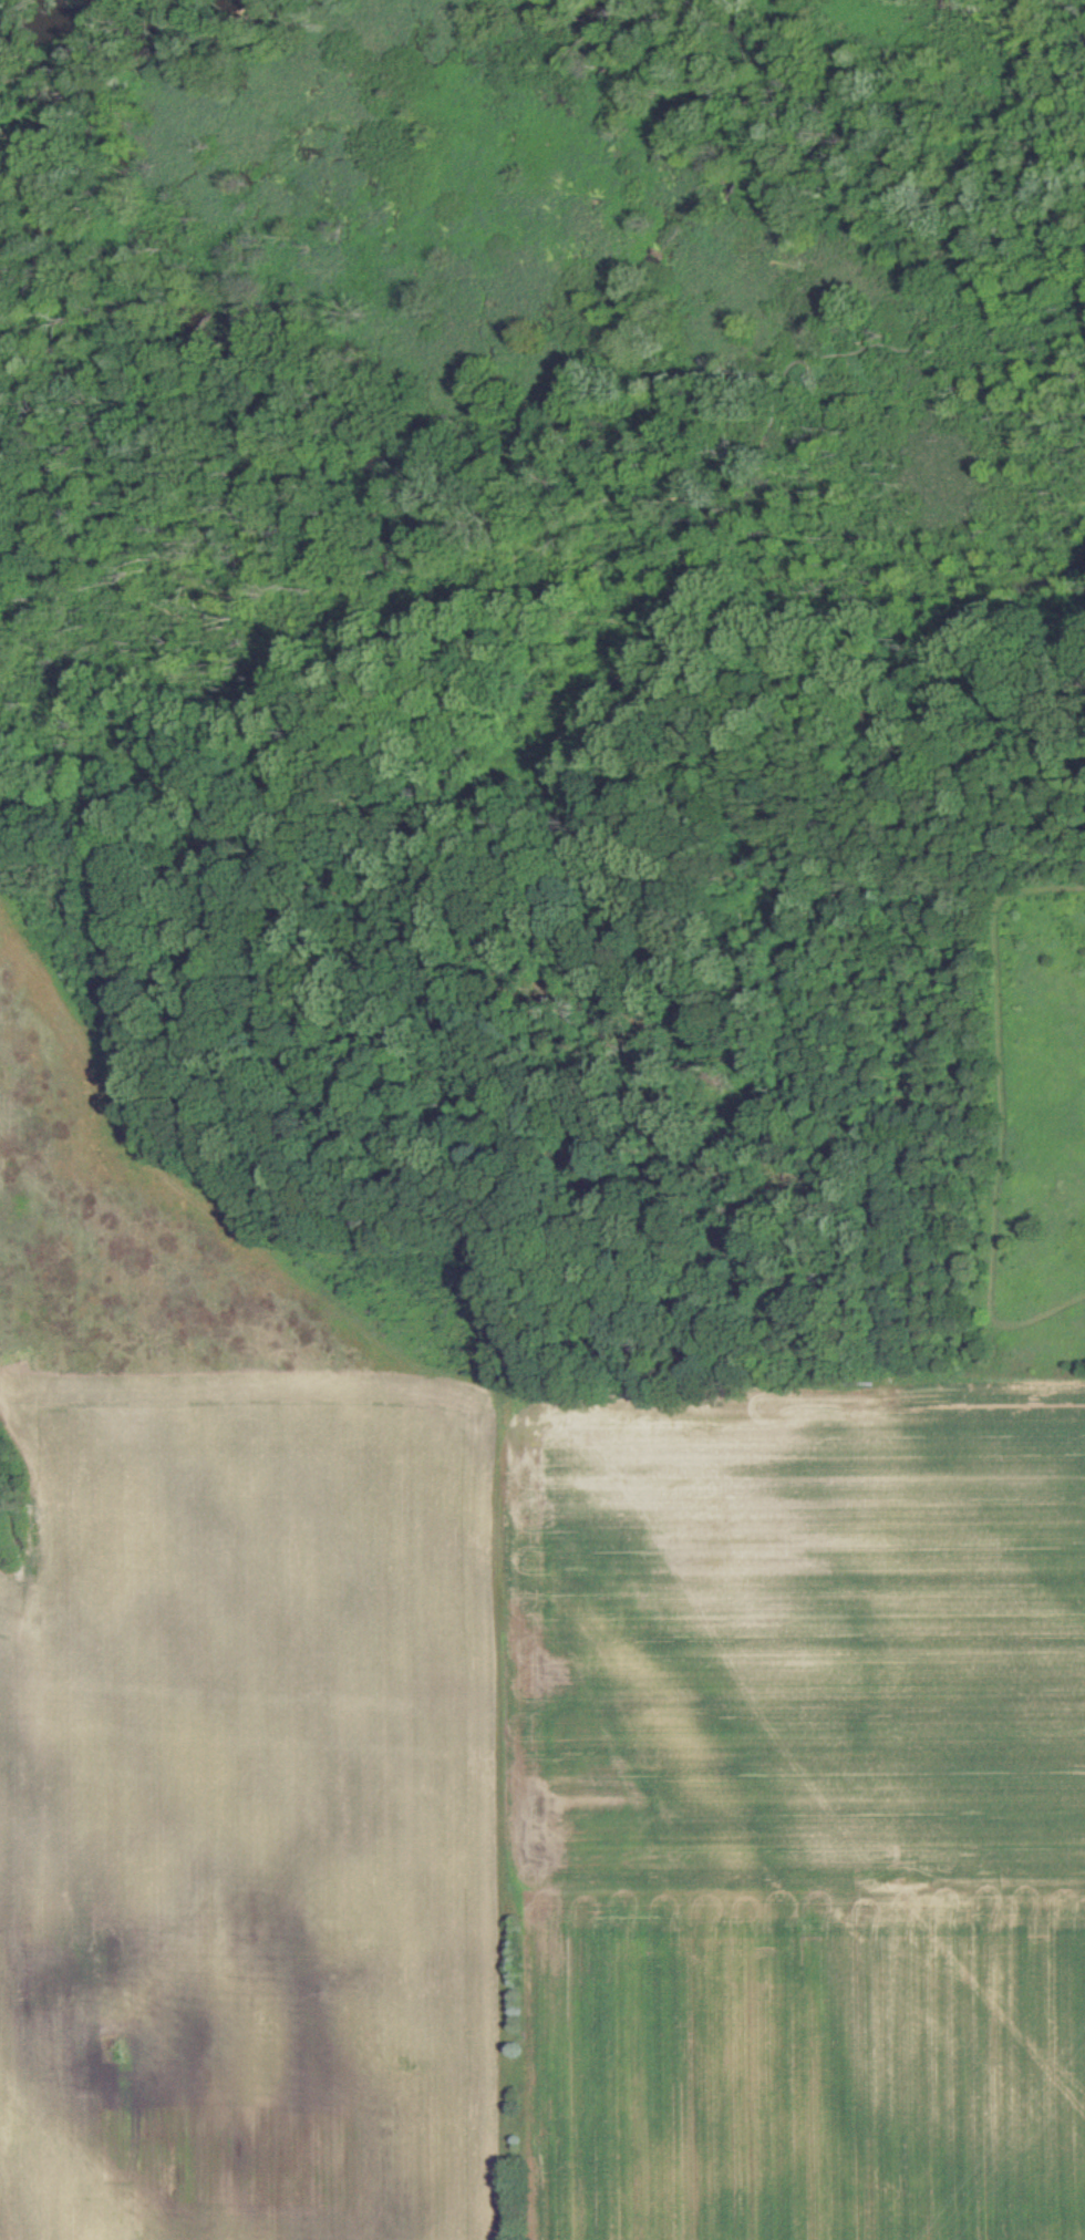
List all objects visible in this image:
river: (40, 16)
road: (1040, 220)
road: (595, 608)
road: (998, 624)
road: (633, 648)
road: (2, 665)
road: (994, 702)
road: (250, 784)
road: (2, 839)
road: (538, 844)
road: (982, 1052)
road: (1035, 1317)

